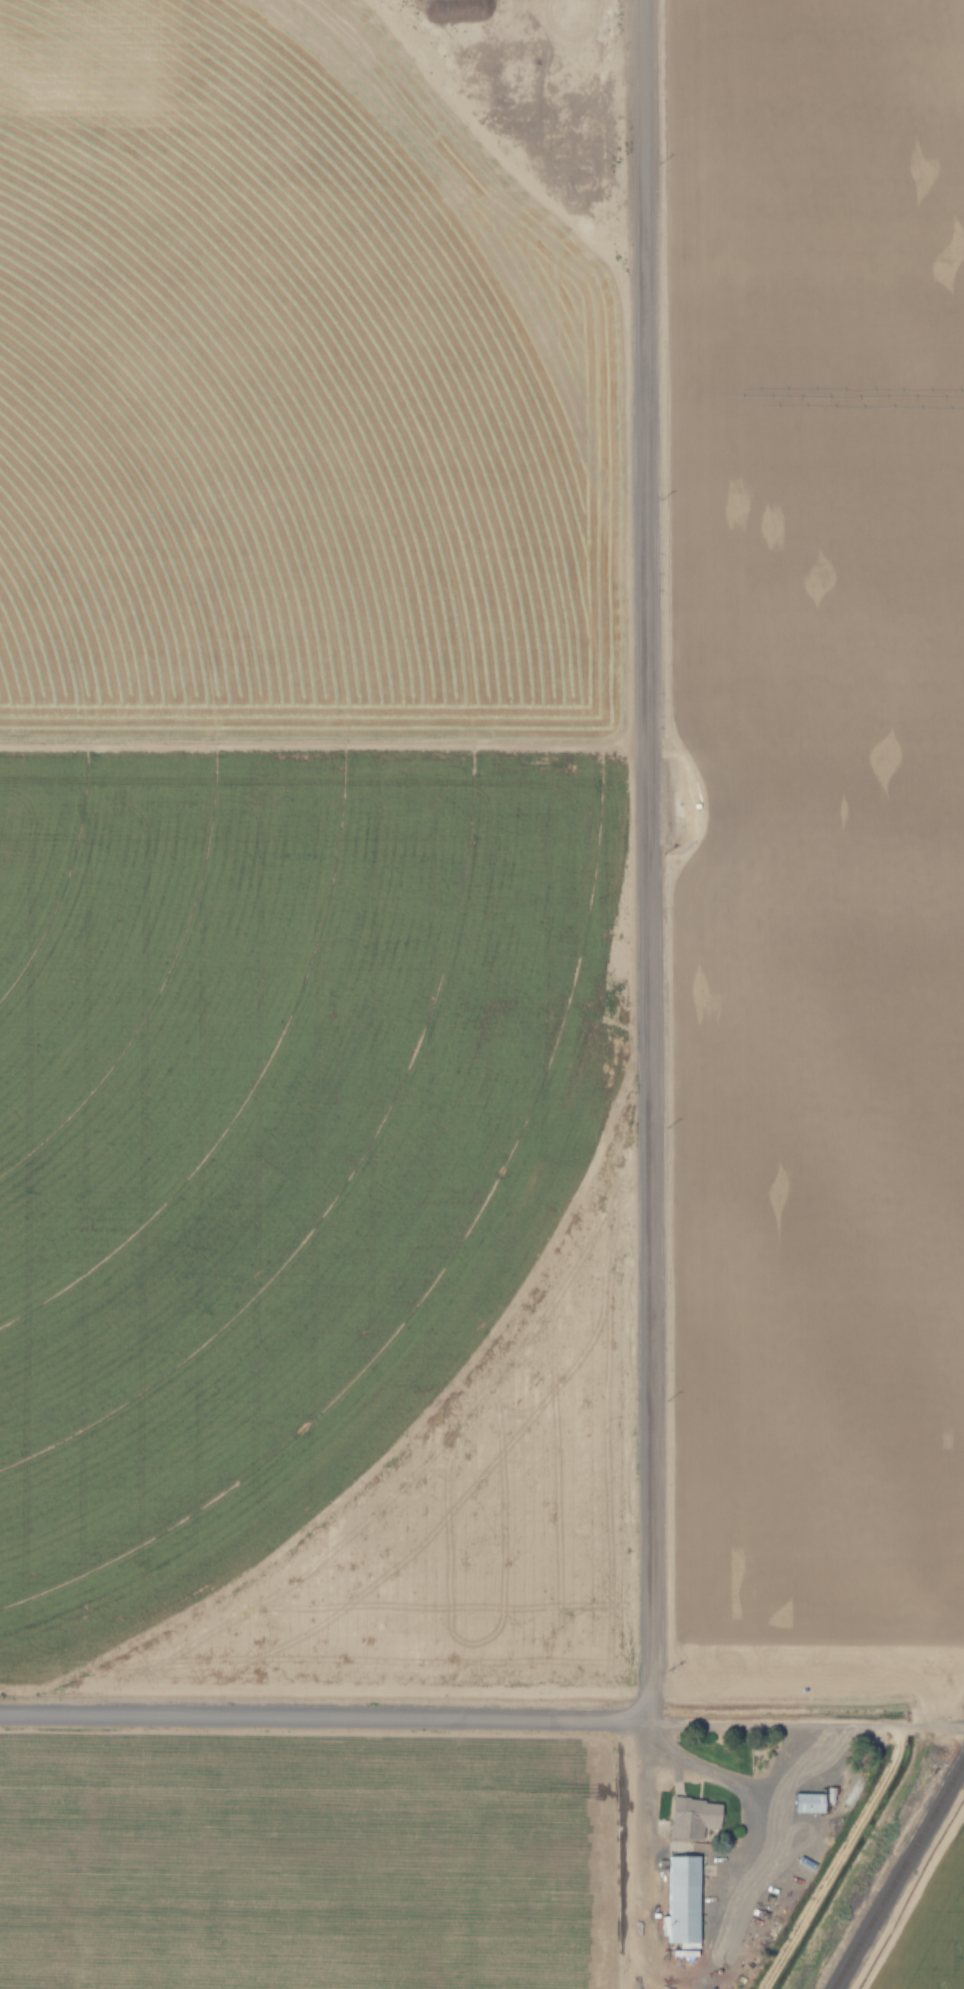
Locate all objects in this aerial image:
crop: (261, 768)
road: (643, 849)
road: (644, 1705)
road: (644, 1717)
road: (482, 1720)
road: (643, 1736)
building: (688, 1817)
crop: (306, 1863)
railway: (898, 1874)
building: (683, 1901)
crop: (933, 1936)

